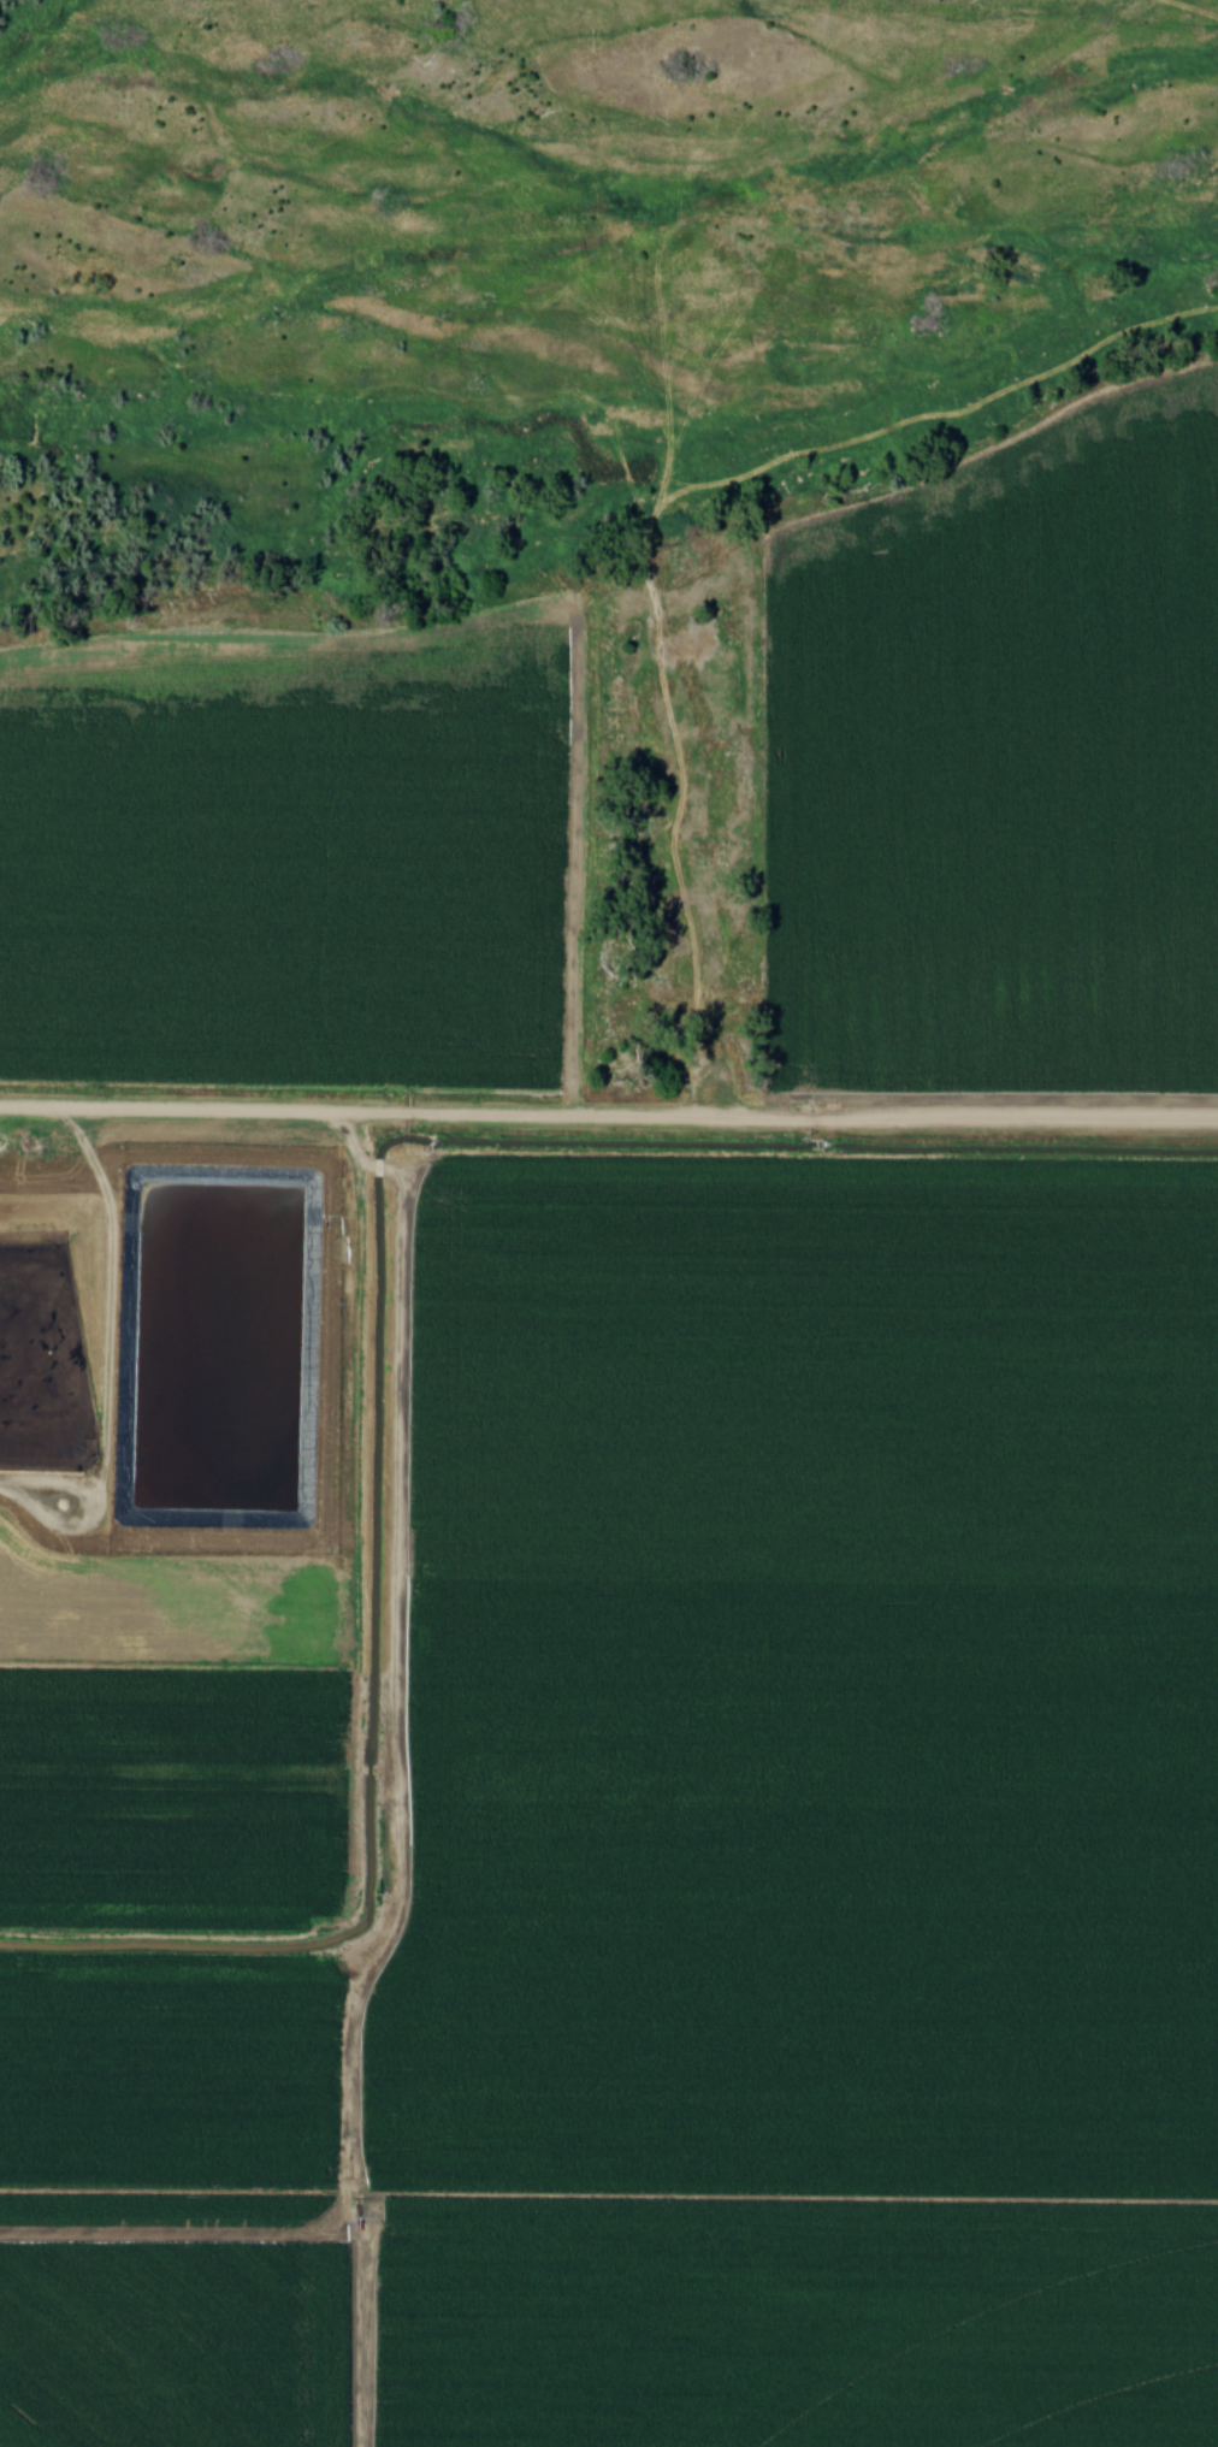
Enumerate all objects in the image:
road: (614, 1005)
road: (608, 1115)

